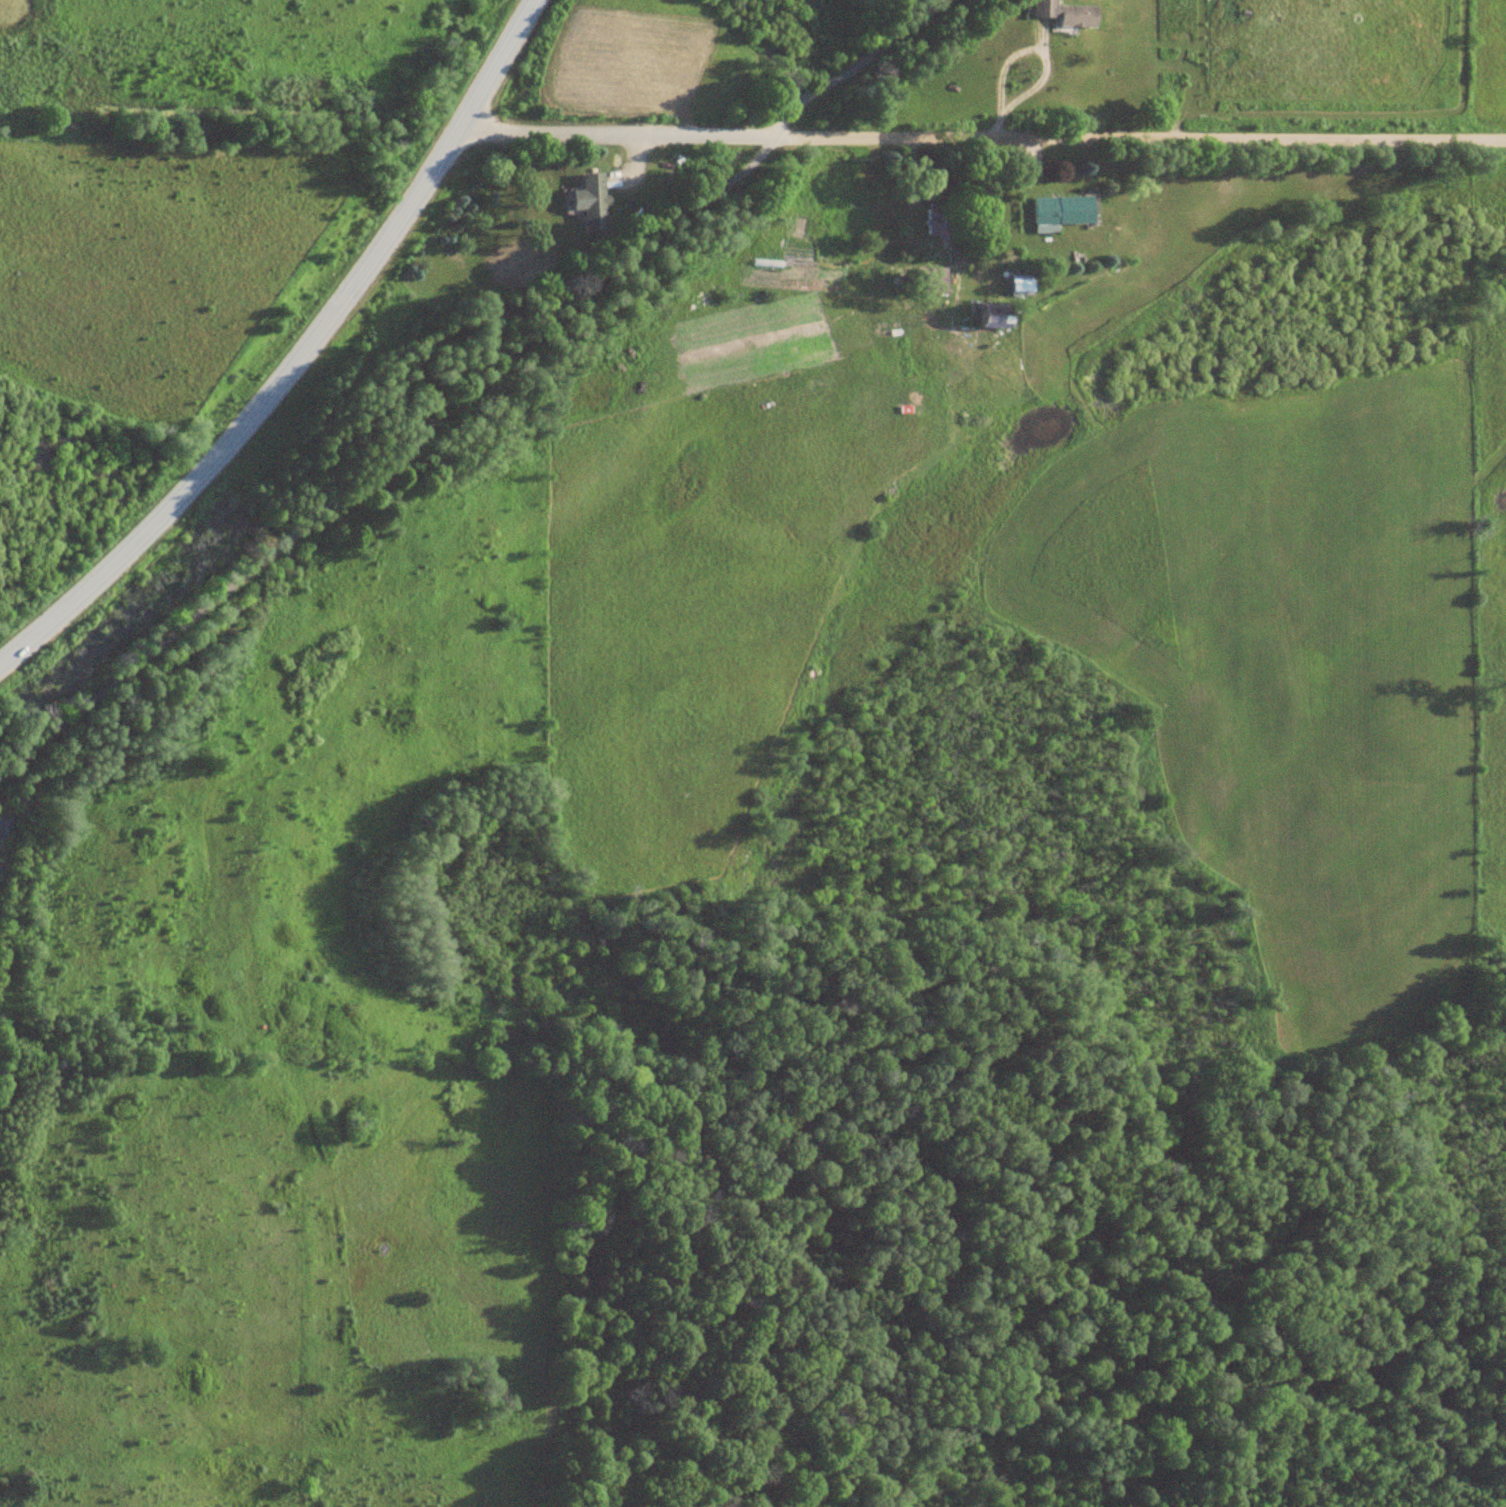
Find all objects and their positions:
building: (1069, 13)
road: (858, 68)
road: (982, 136)
building: (593, 201)
building: (1065, 212)
building: (940, 220)
building: (934, 280)
building: (1001, 315)
road: (300, 355)
road: (389, 458)

